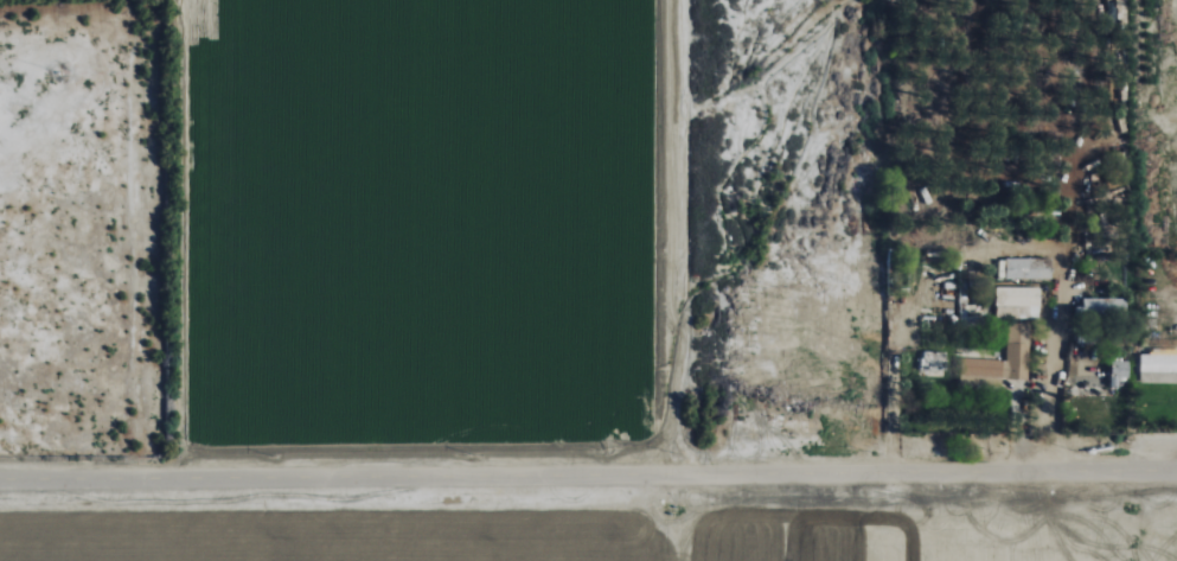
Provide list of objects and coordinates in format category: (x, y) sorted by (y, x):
crop: (431, 230)
building: (1100, 262)
building: (1026, 268)
building: (1057, 276)
building: (1017, 297)
building: (1098, 306)
building: (932, 361)
building: (998, 362)
building: (1100, 364)
building: (1157, 366)
building: (1115, 372)
building: (1094, 388)
road: (588, 474)

